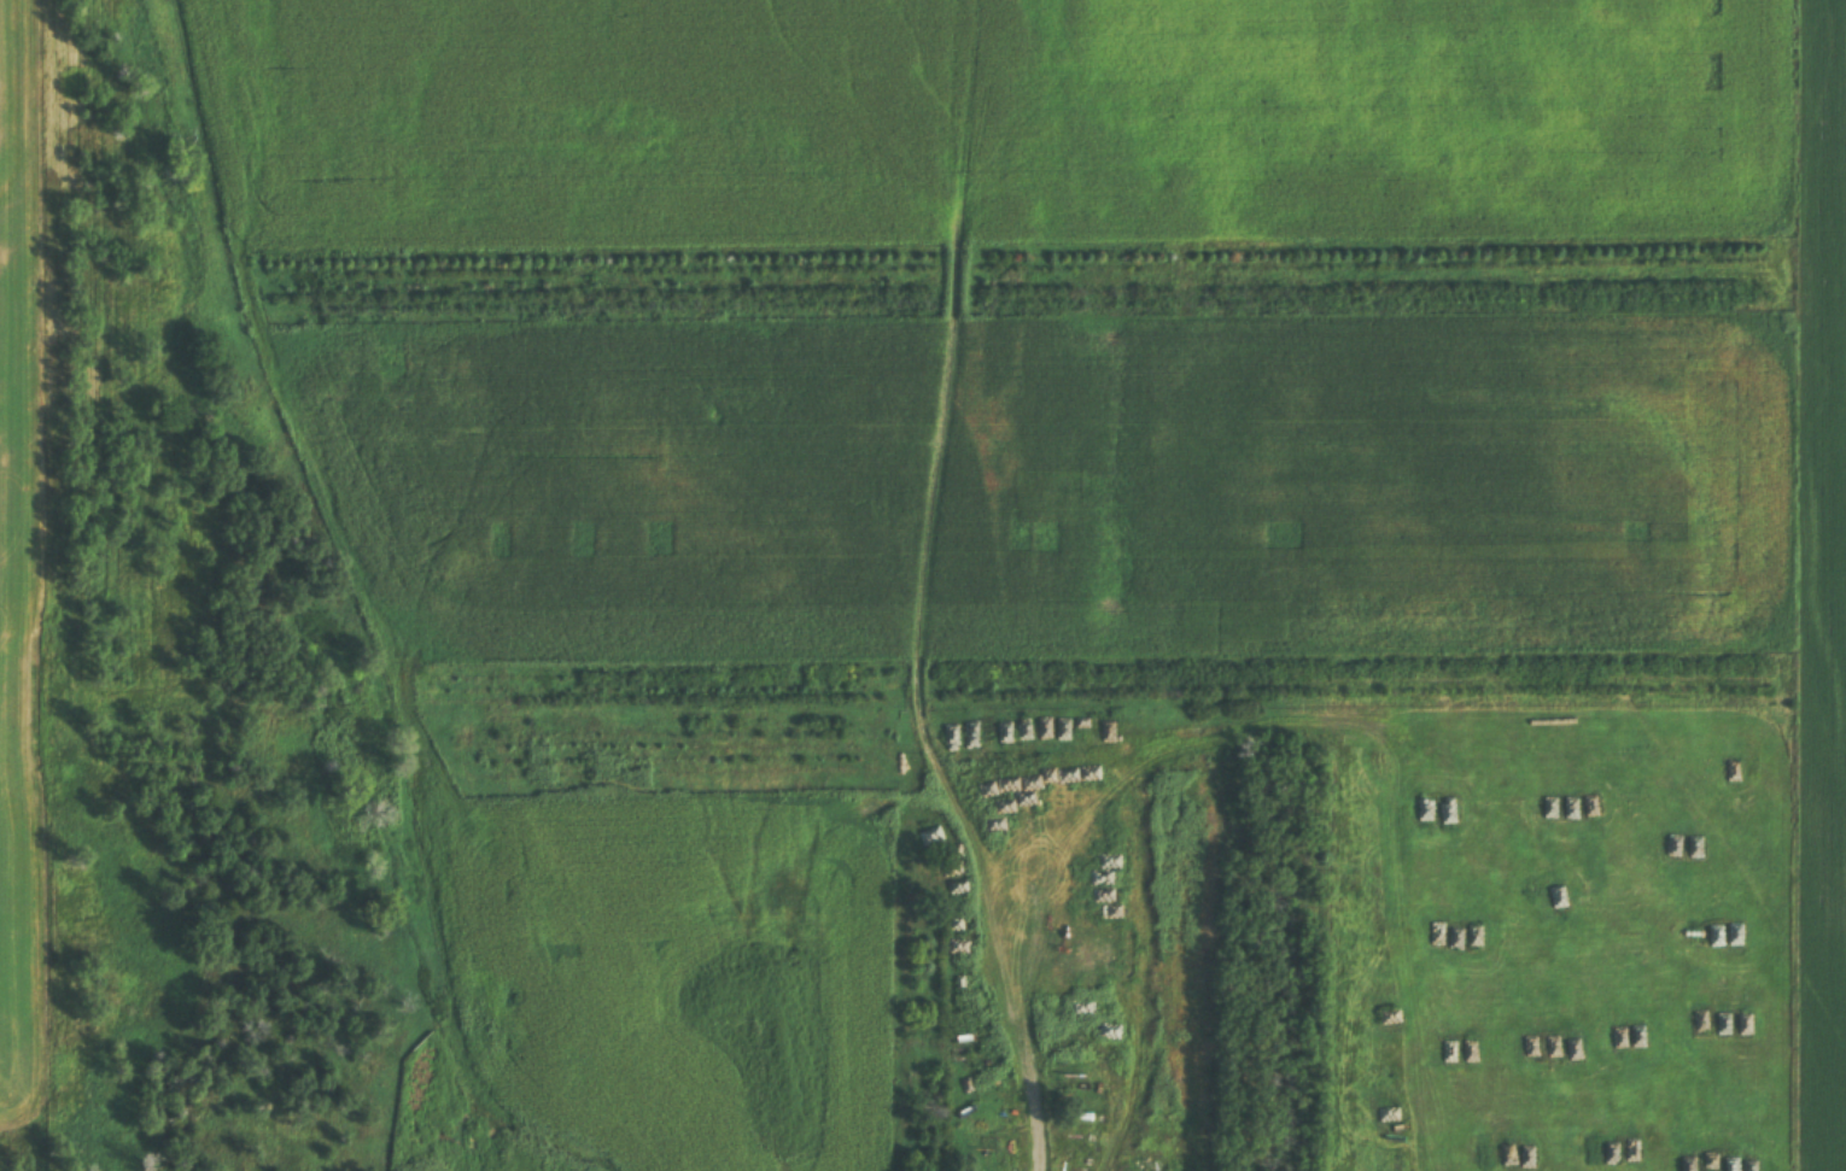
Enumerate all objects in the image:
building: (1403, 829)

